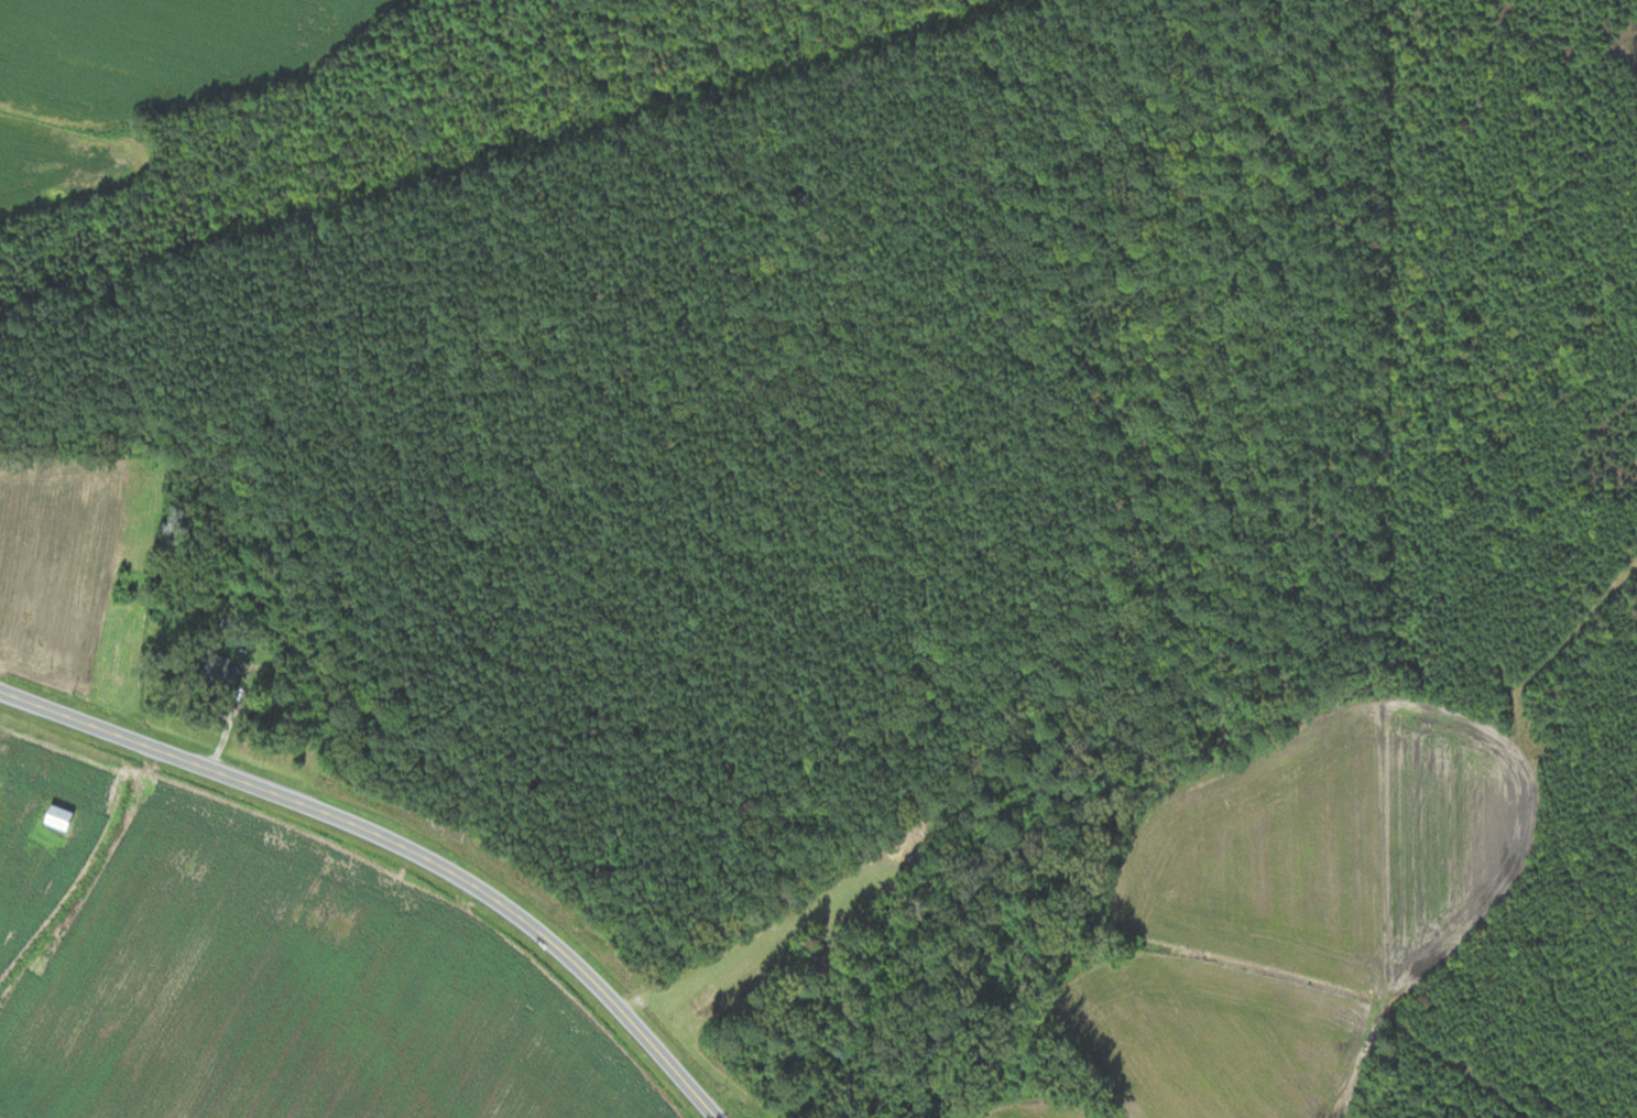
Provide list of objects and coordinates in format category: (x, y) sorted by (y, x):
building: (221, 674)
building: (61, 815)
road: (396, 860)

